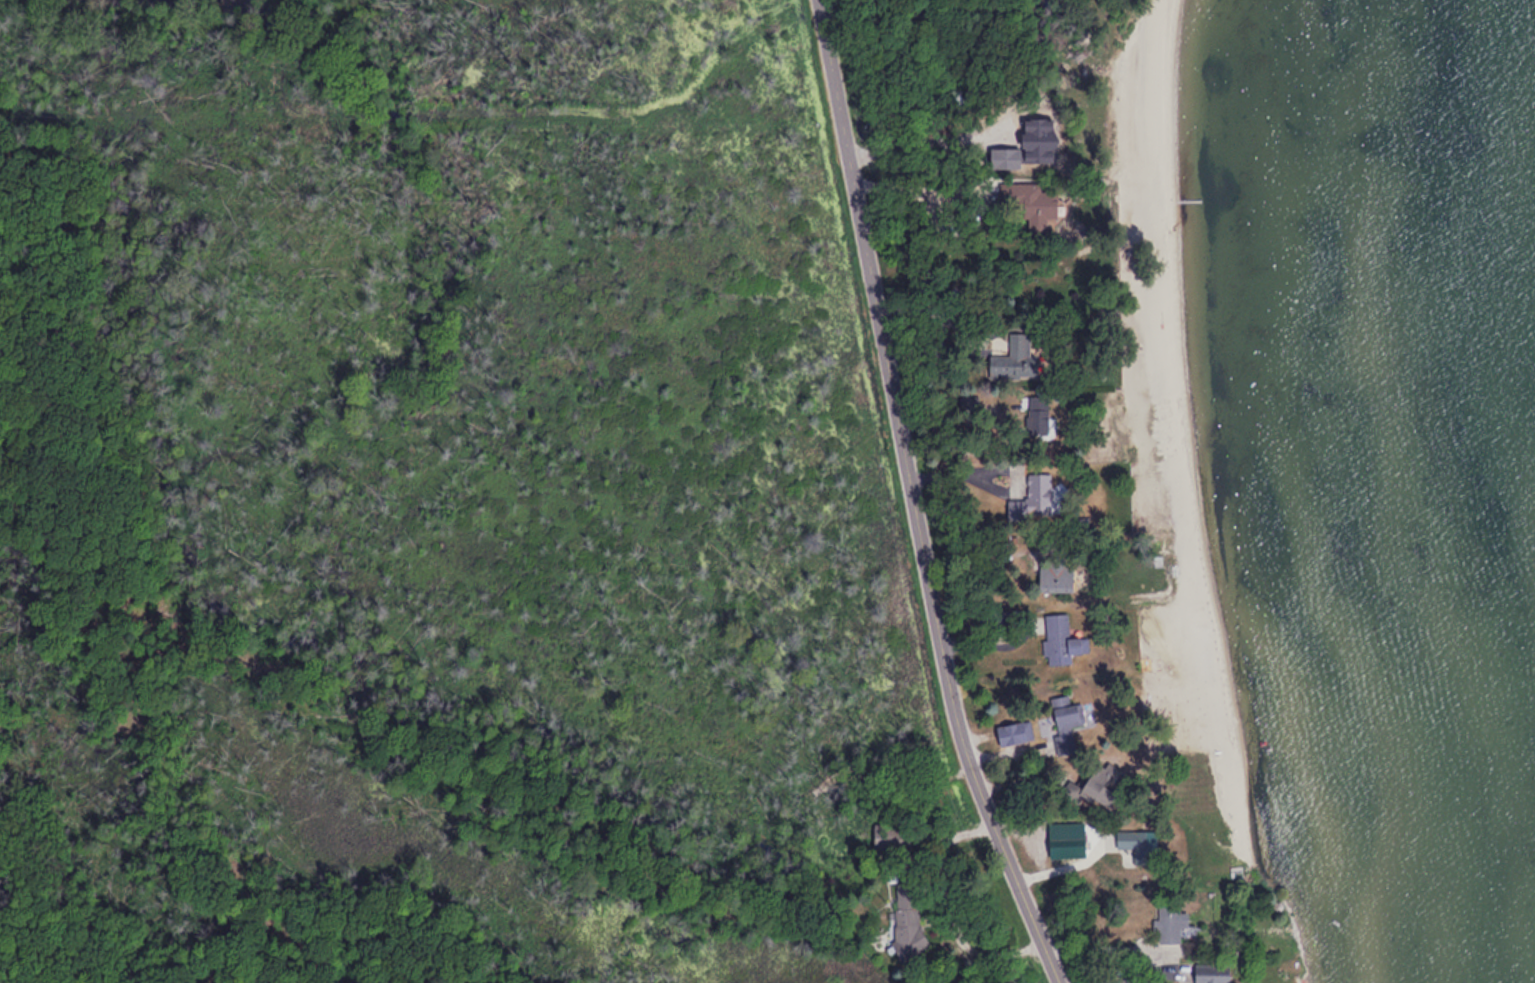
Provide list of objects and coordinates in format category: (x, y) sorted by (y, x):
building: (1031, 205)
building: (1011, 359)
building: (1036, 413)
road: (910, 498)
building: (1031, 498)
building: (1054, 577)
building: (1054, 636)
building: (1066, 726)
building: (1093, 781)
building: (888, 831)
building: (1127, 839)
road: (1068, 870)
building: (1168, 918)
building: (904, 934)
building: (1209, 973)

